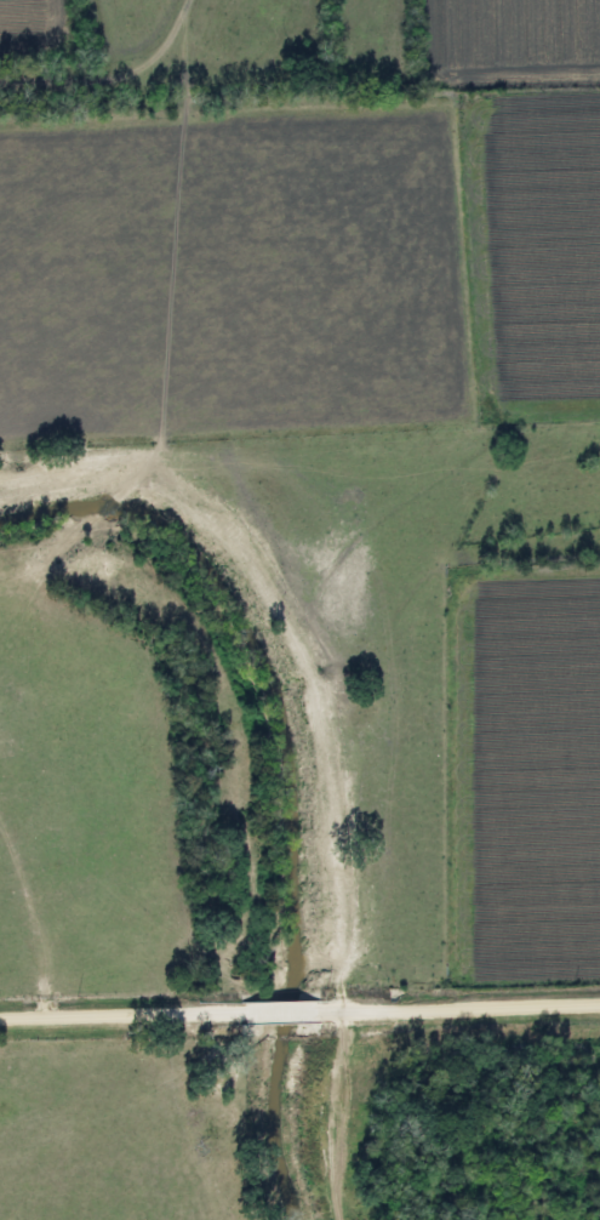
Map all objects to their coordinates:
road: (108, 73)
road: (299, 1008)

